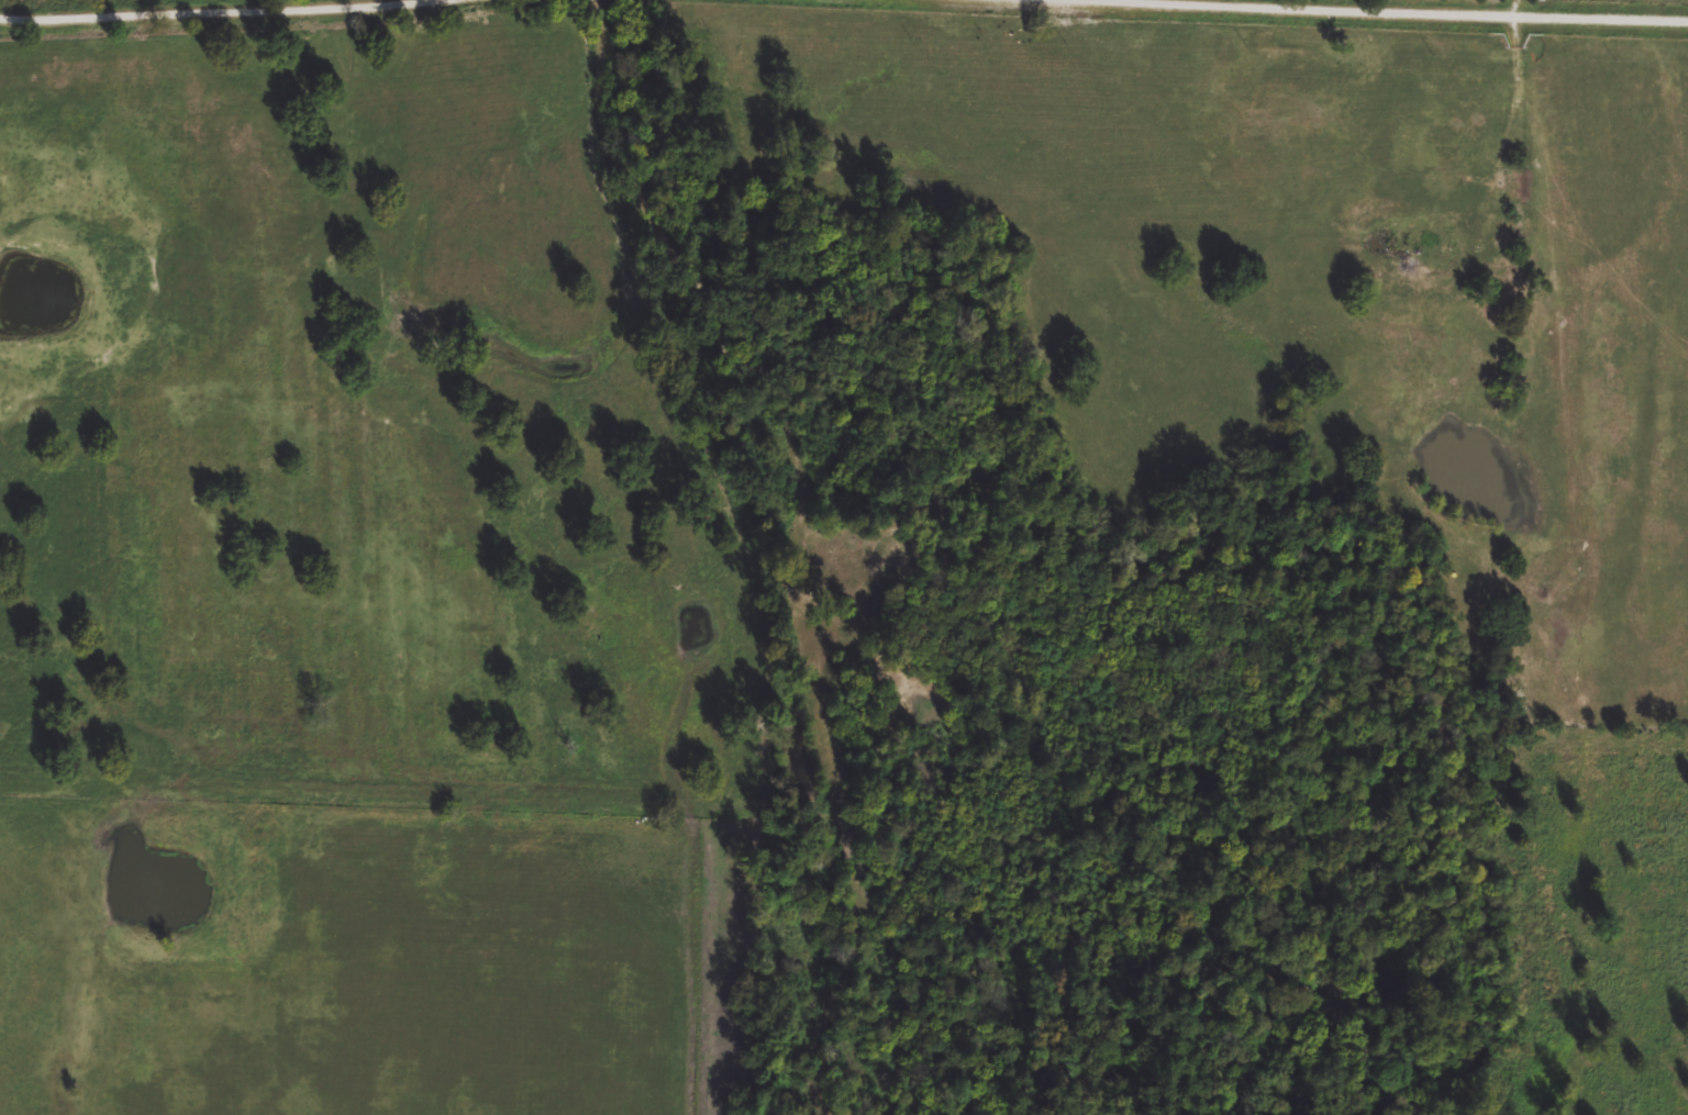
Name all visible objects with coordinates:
road: (1267, 3)
road: (182, 9)
road: (1406, 11)

